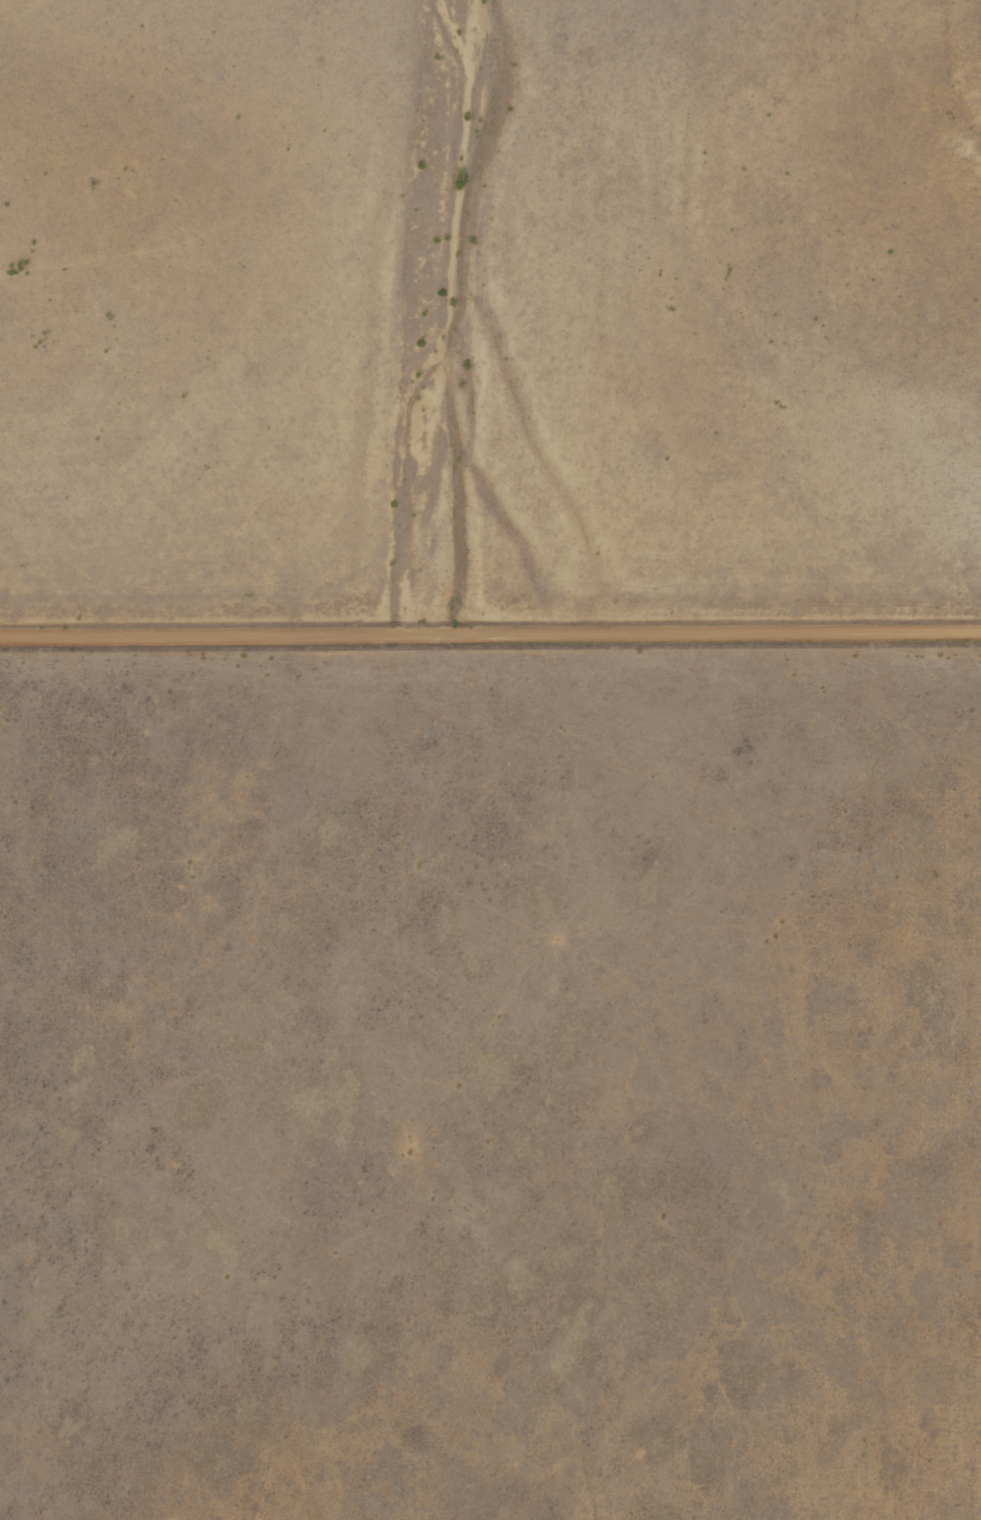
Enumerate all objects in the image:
road: (490, 629)

